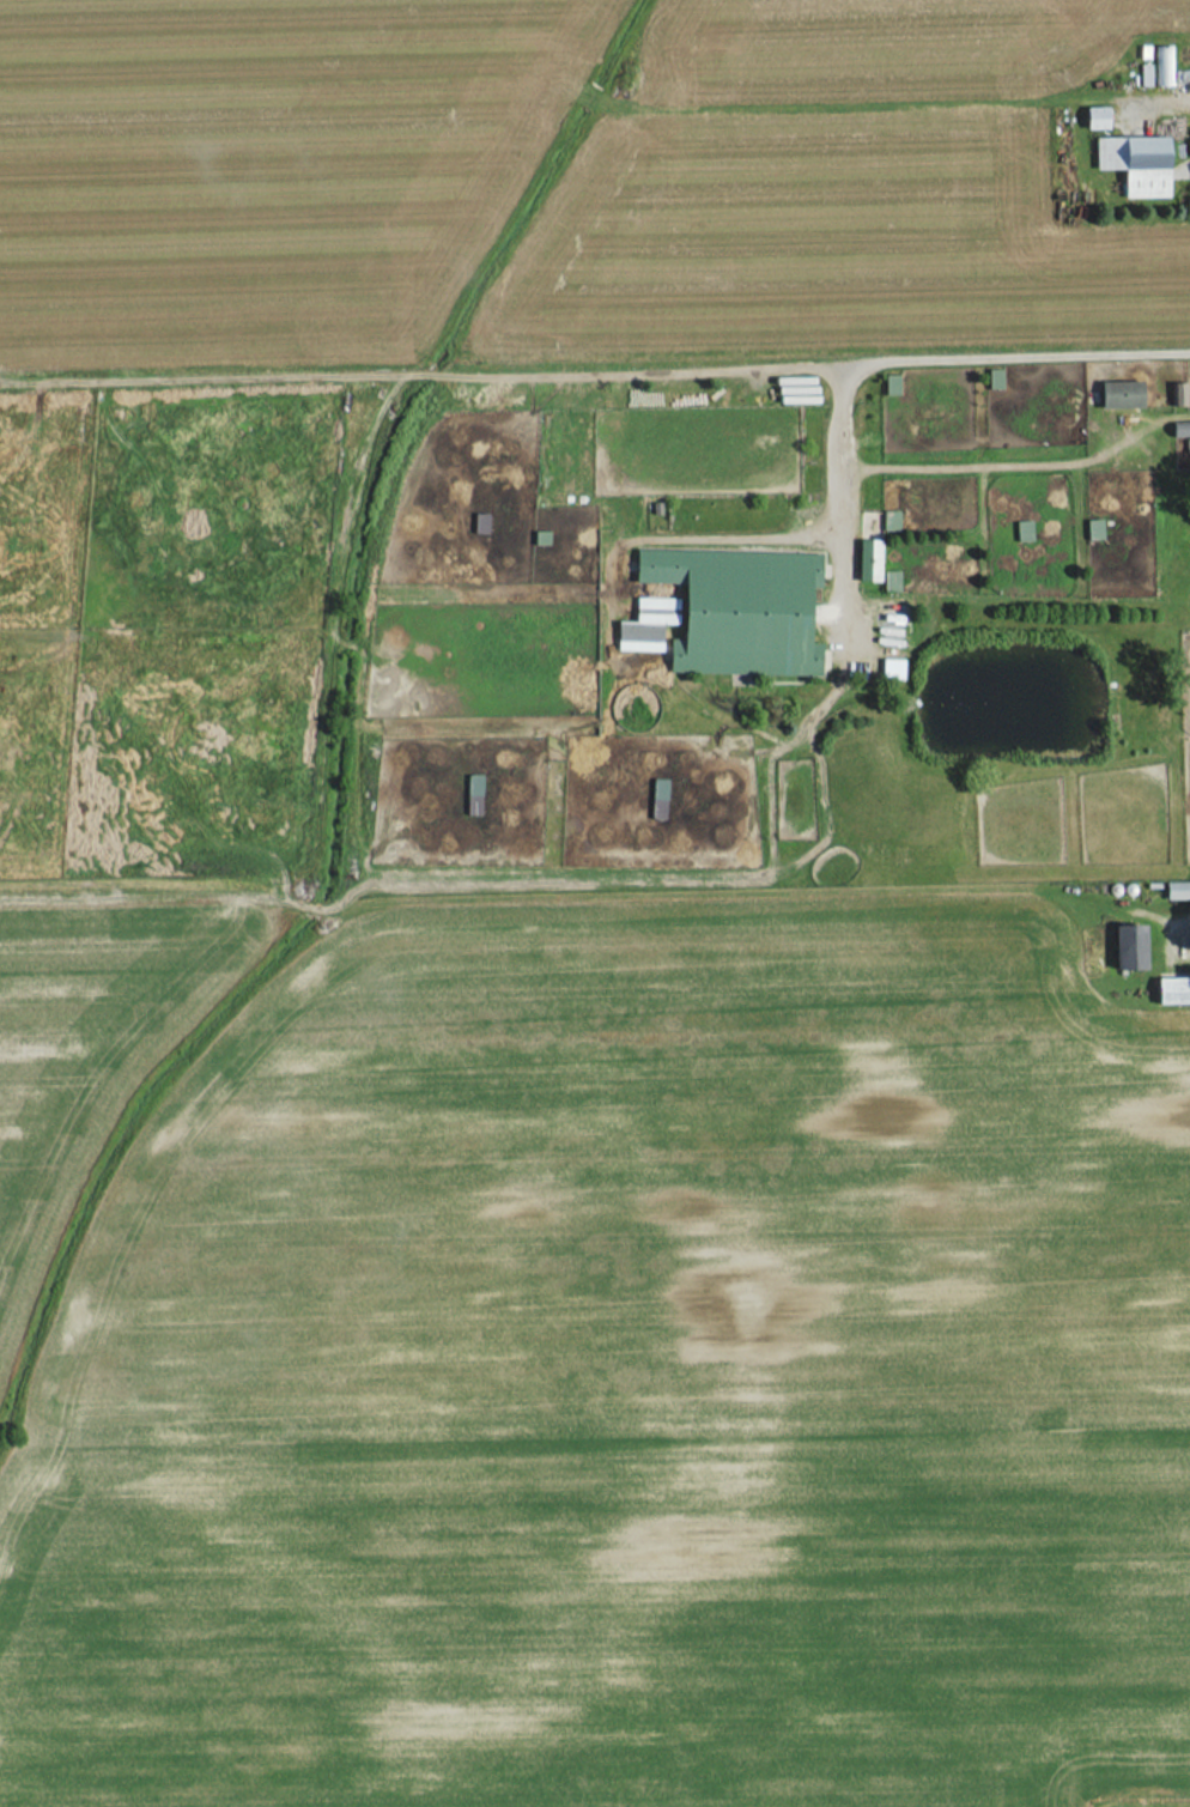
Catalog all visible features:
crop: (879, 51)
building: (1160, 66)
building: (1142, 75)
building: (1097, 119)
crop: (254, 160)
building: (1136, 164)
crop: (820, 243)
road: (613, 370)
building: (992, 377)
building: (890, 383)
building: (1176, 393)
building: (1121, 394)
building: (1179, 430)
road: (1020, 465)
road: (840, 498)
building: (888, 520)
building: (868, 559)
building: (888, 580)
building: (740, 610)
building: (645, 624)
building: (890, 668)
building: (472, 794)
building: (656, 798)
road: (1161, 903)
building: (1129, 946)
building: (1173, 990)
crop: (99, 1029)
crop: (629, 1382)

